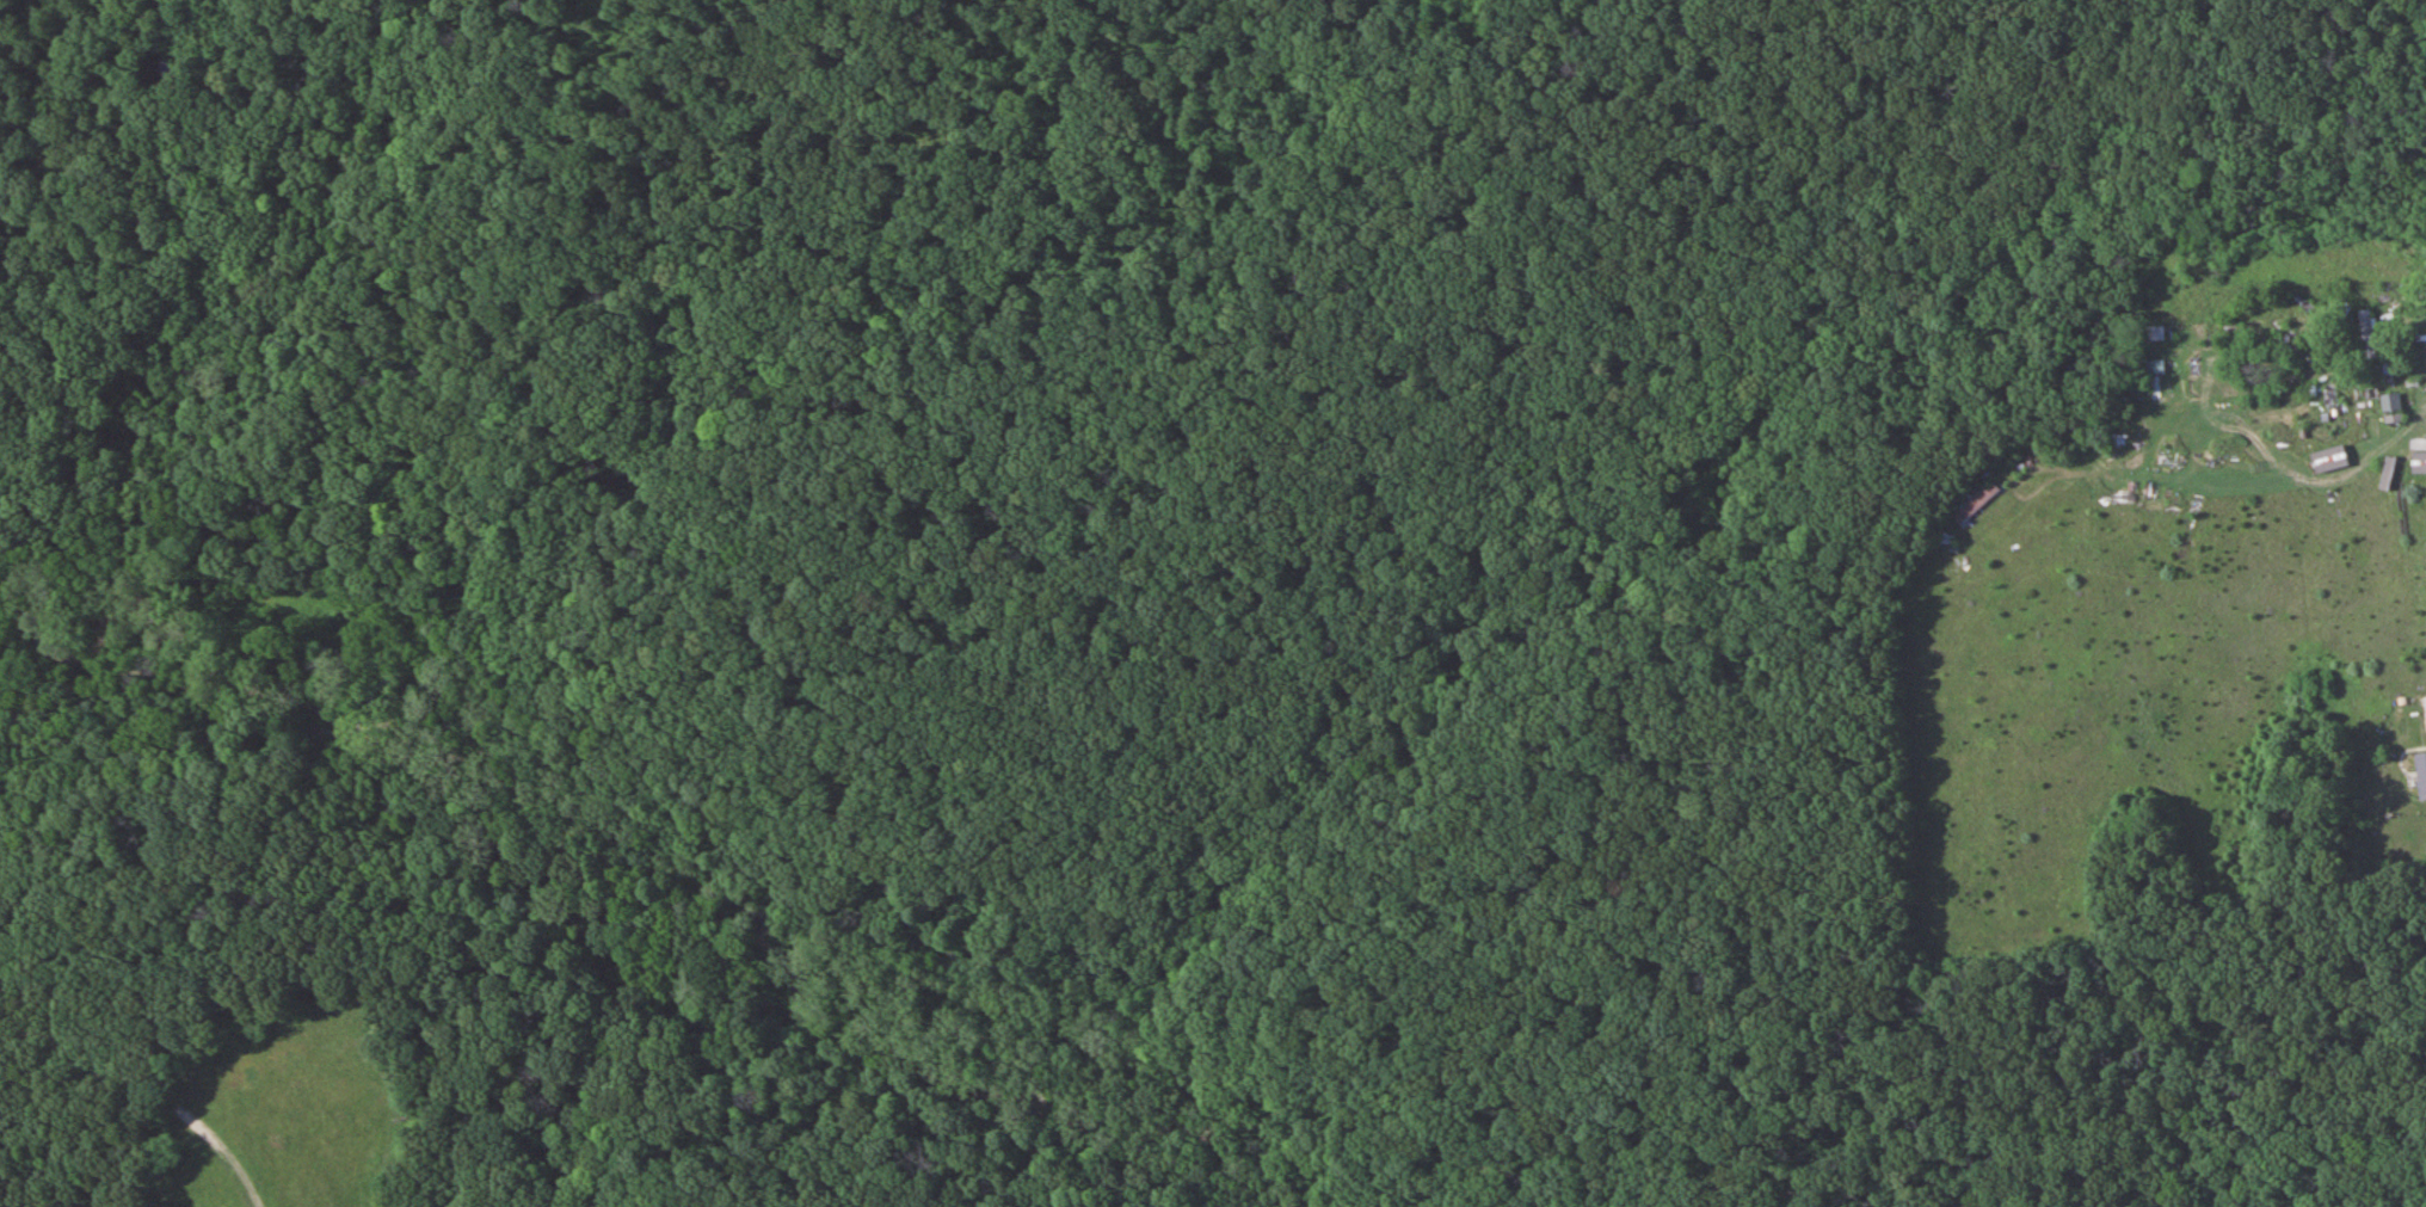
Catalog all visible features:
building: (2367, 333)
building: (2231, 334)
building: (2171, 335)
building: (2317, 456)
building: (2424, 480)
building: (1977, 503)
building: (2421, 775)

